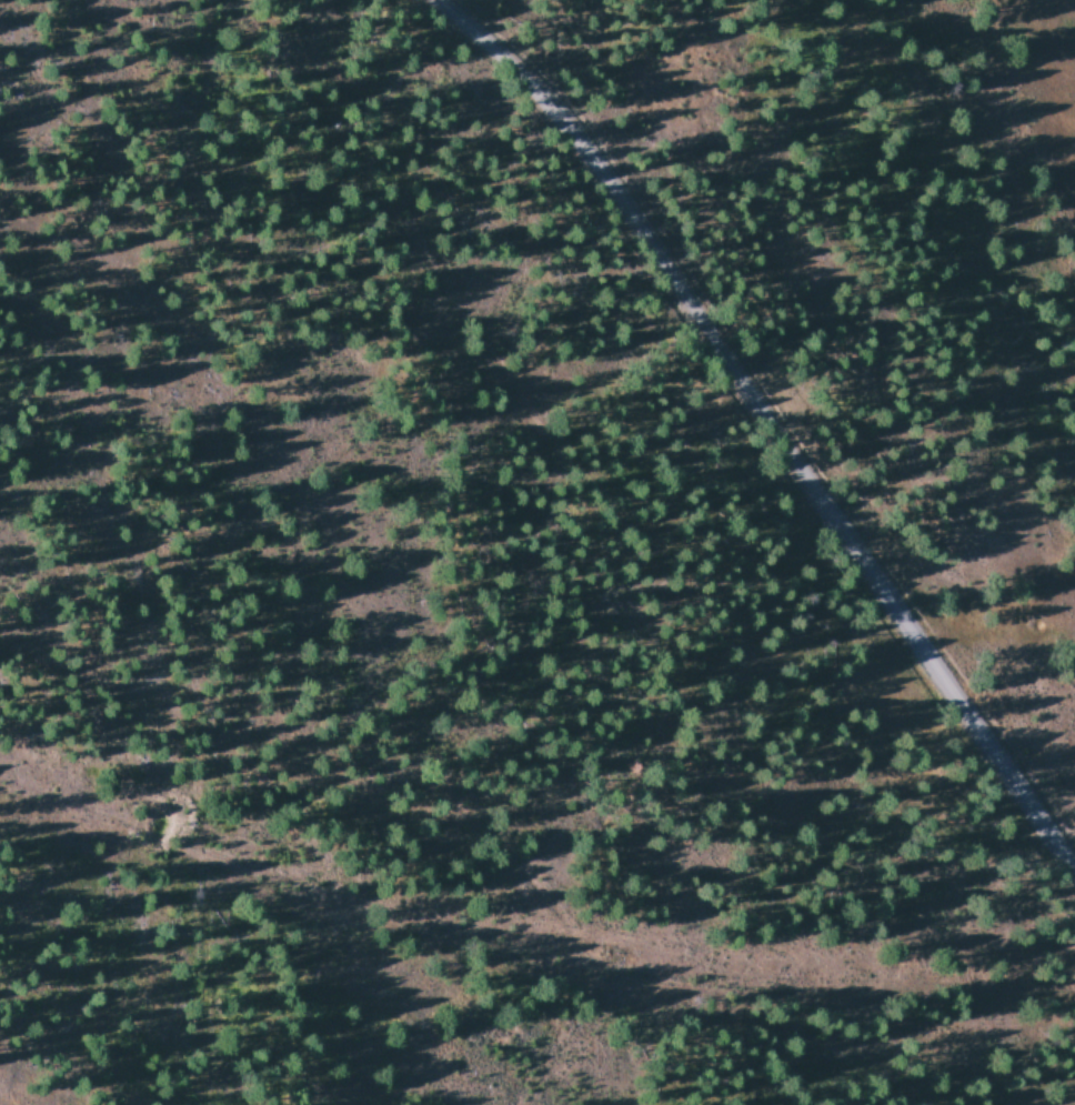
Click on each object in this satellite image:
road: (770, 381)

